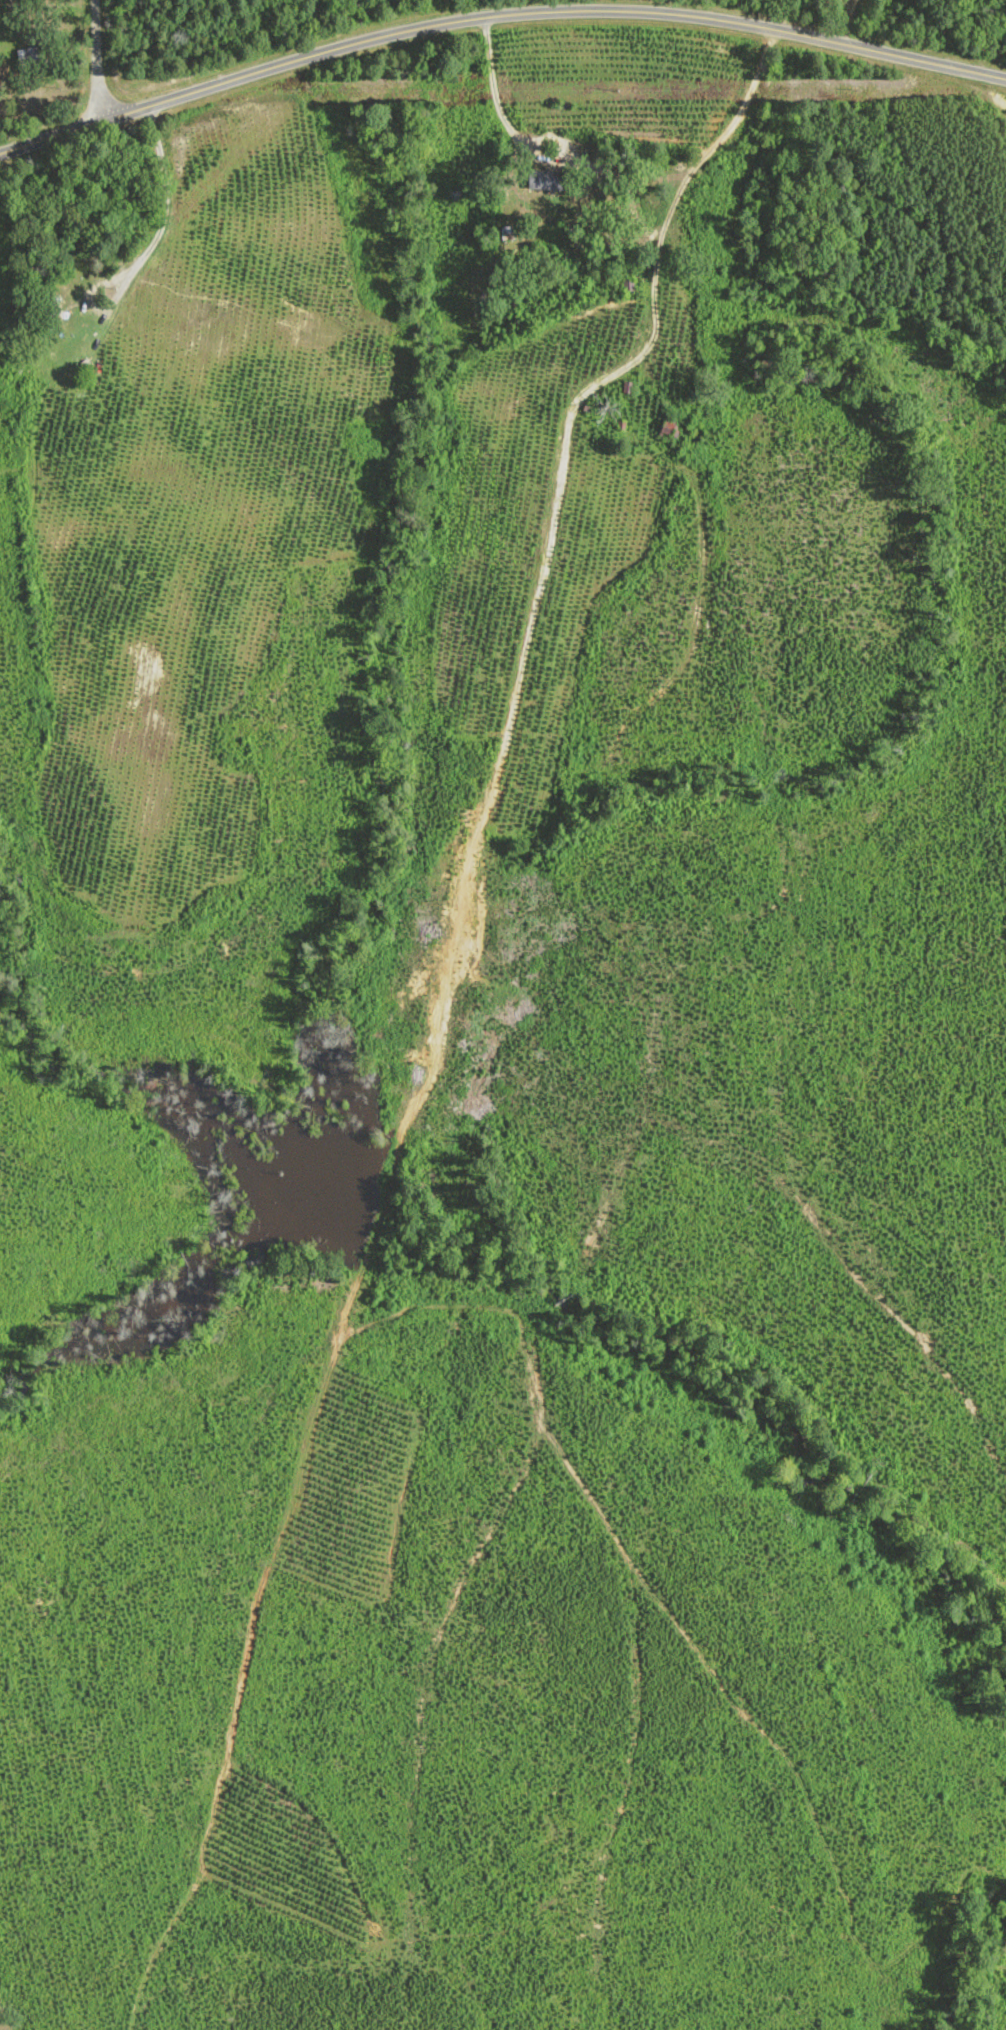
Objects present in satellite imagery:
road: (496, 16)
building: (33, 58)
road: (100, 60)
road: (509, 126)
building: (548, 180)
building: (85, 303)

